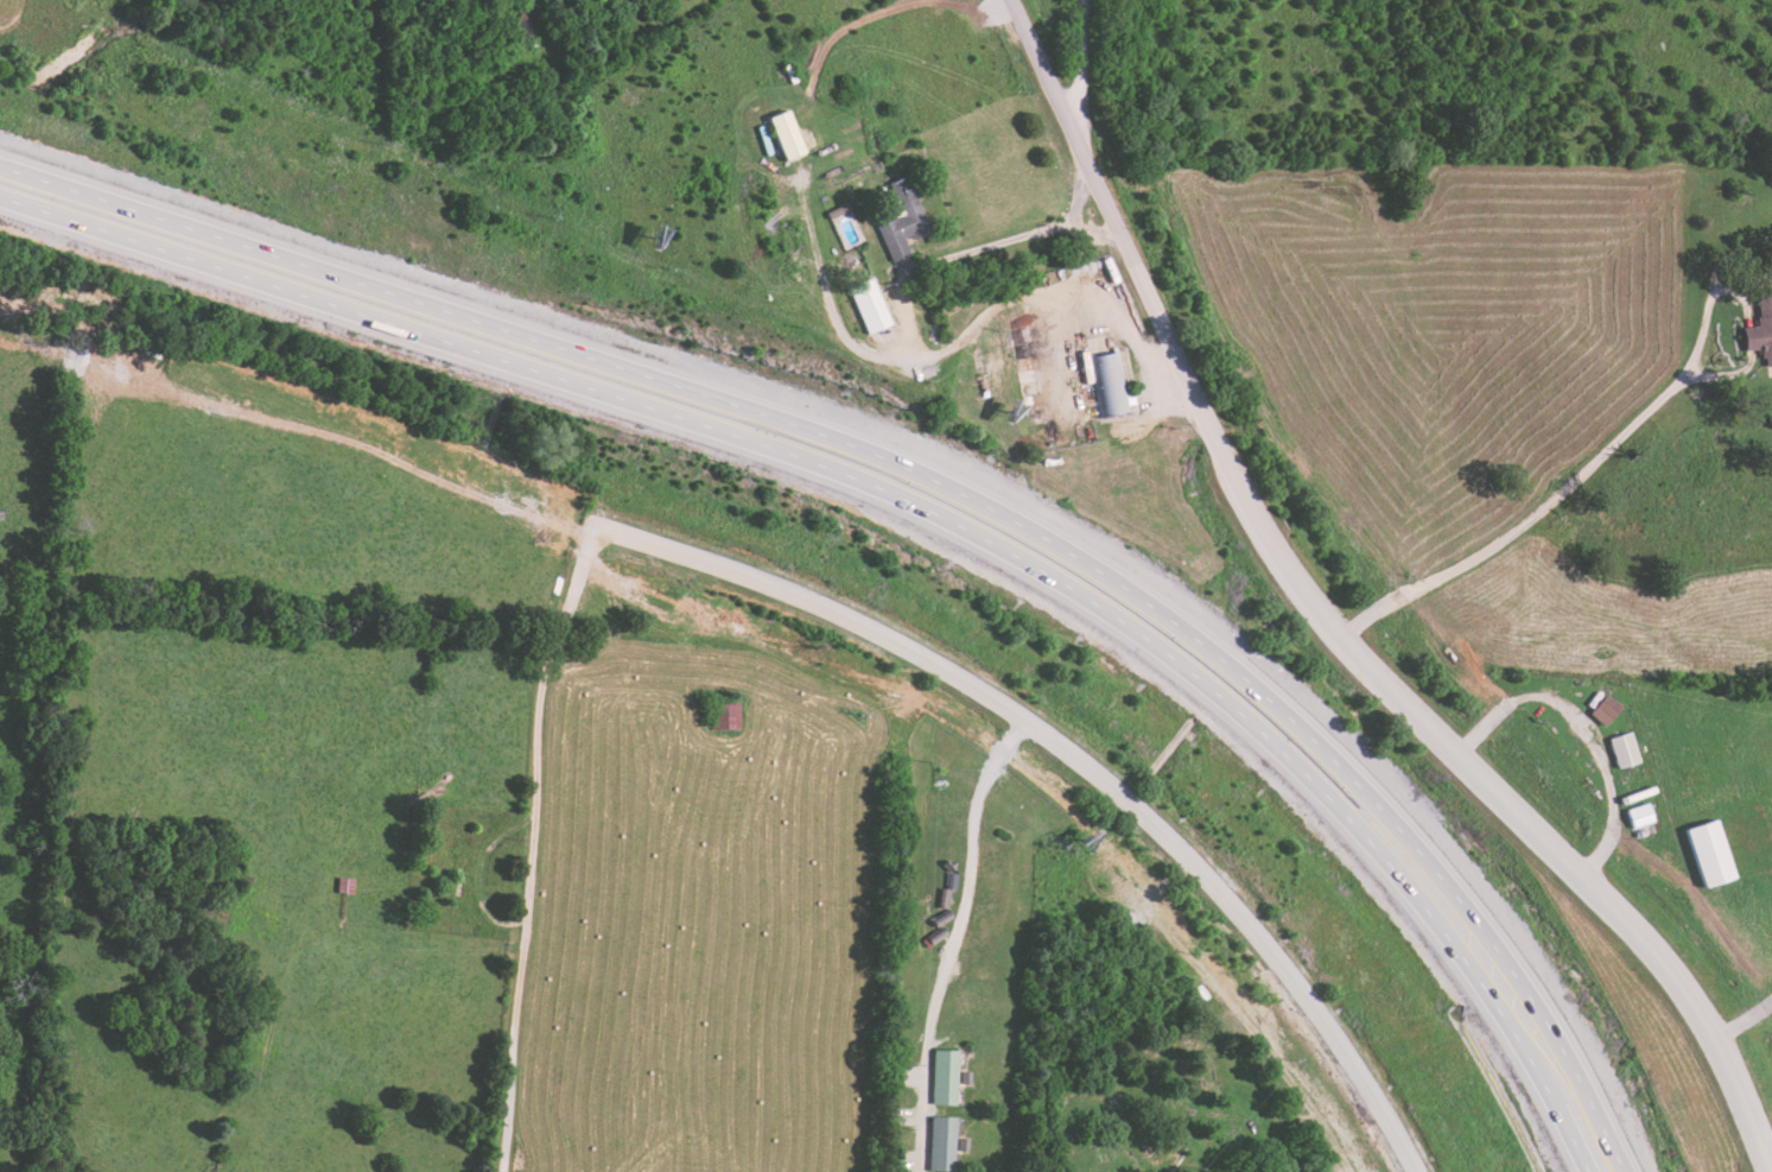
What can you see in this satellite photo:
road: (1048, 62)
road: (1081, 62)
building: (786, 135)
building: (901, 218)
road: (1014, 240)
building: (869, 305)
building: (1760, 328)
building: (1111, 384)
road: (936, 482)
road: (1528, 505)
road: (913, 506)
road: (1373, 677)
building: (1603, 710)
building: (725, 716)
building: (1622, 749)
road: (1079, 766)
building: (1638, 816)
road: (531, 848)
building: (1708, 854)
road: (951, 943)
building: (941, 1077)
building: (940, 1144)

